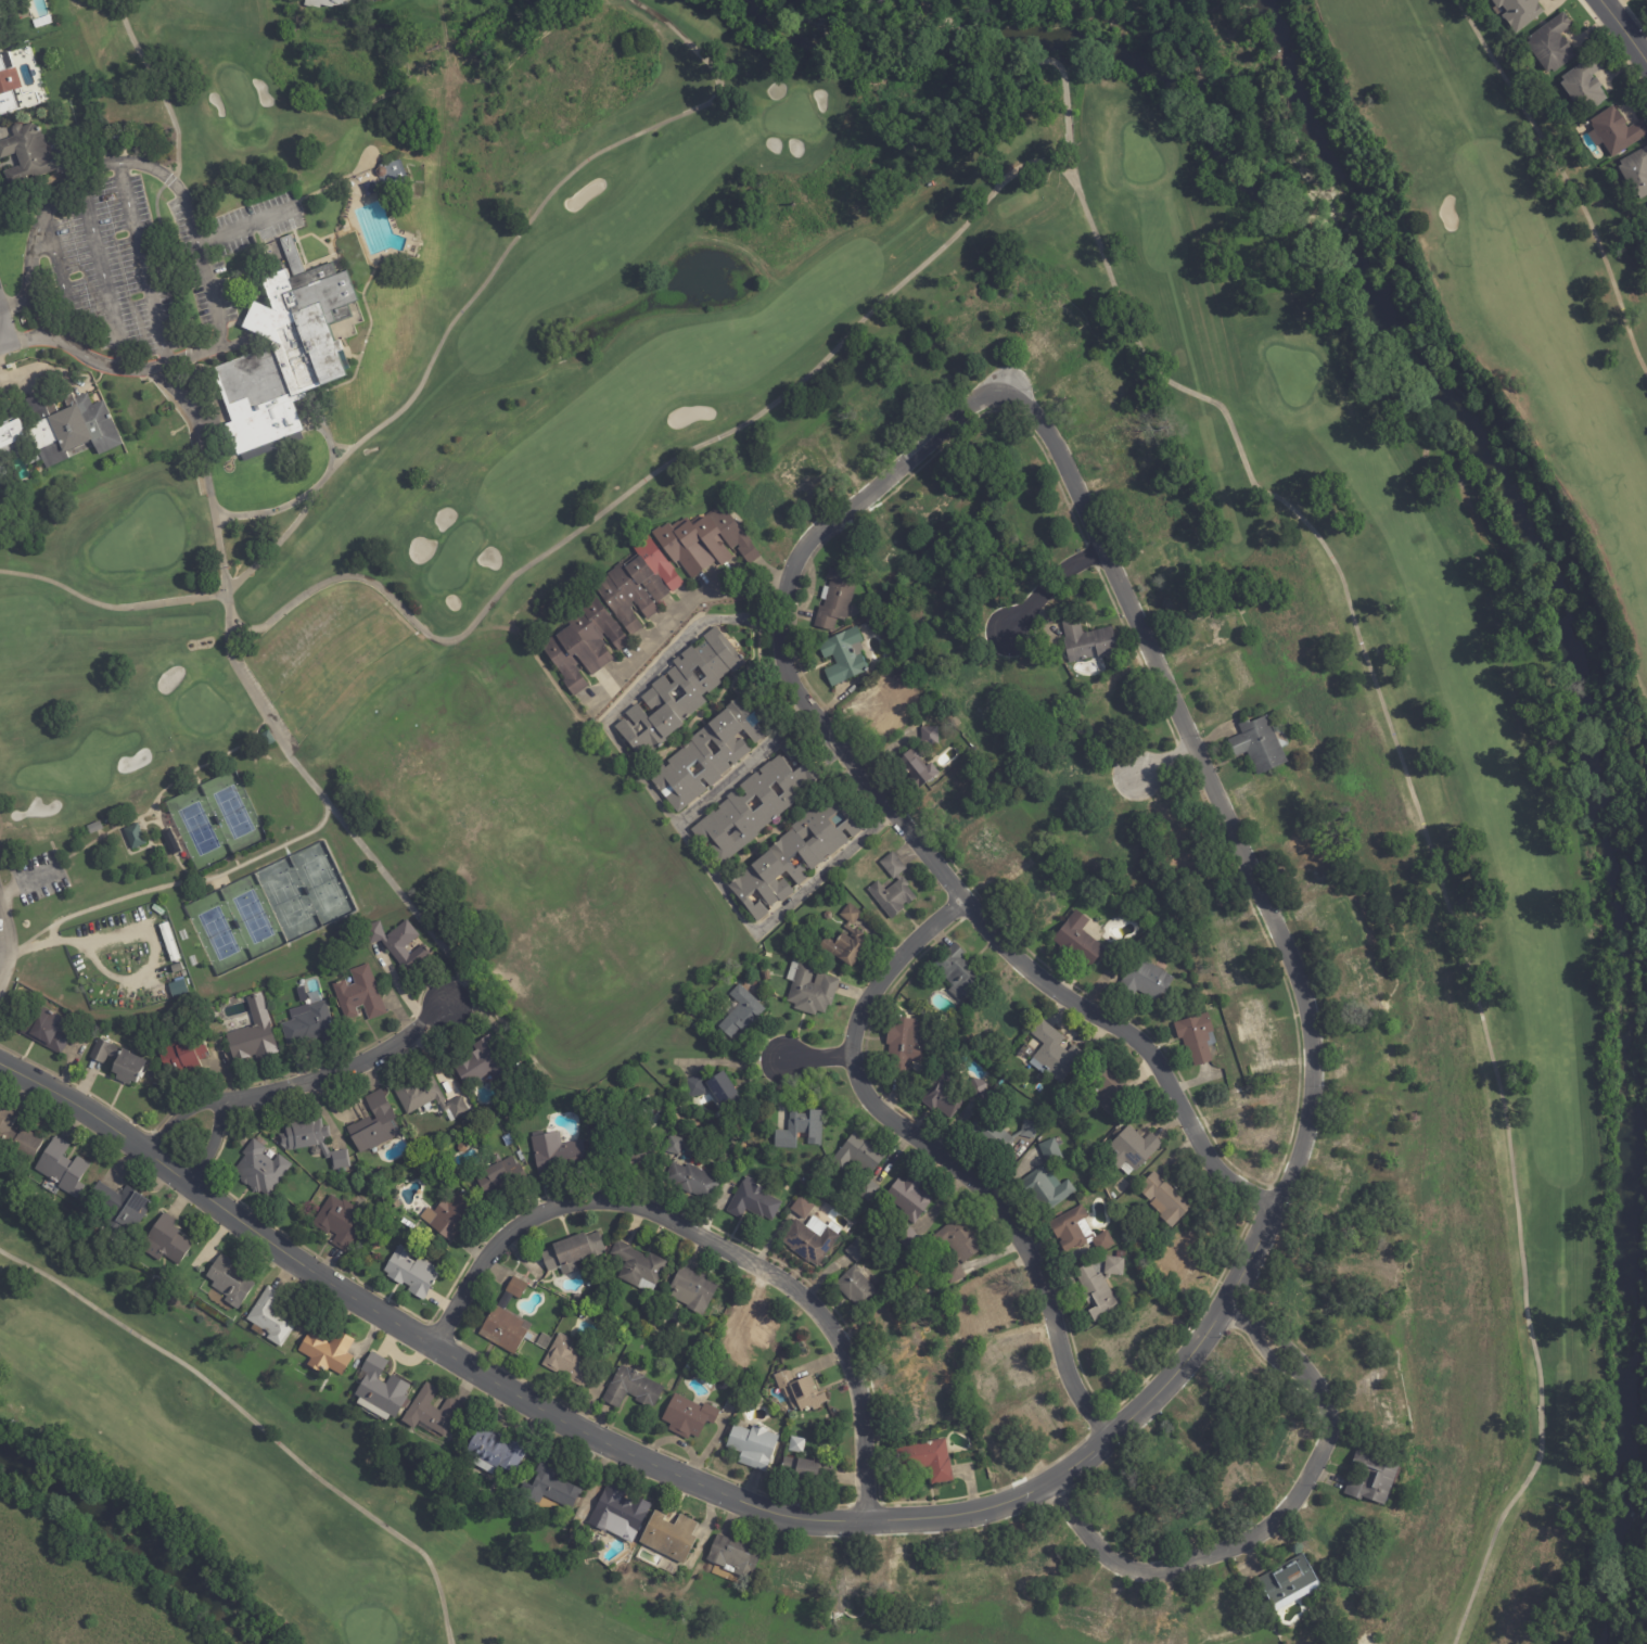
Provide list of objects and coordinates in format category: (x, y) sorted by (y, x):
building: (362, 2)
building: (2, 3)
building: (323, 3)
building: (1520, 12)
building: (42, 22)
road: (1625, 28)
building: (1553, 46)
building: (1586, 85)
building: (13, 88)
building: (1618, 132)
building: (122, 137)
building: (29, 157)
building: (1636, 171)
building: (1645, 208)
road: (241, 225)
road: (192, 234)
parking lot: (148, 258)
road: (144, 260)
road: (105, 271)
road: (56, 282)
road: (15, 300)
road: (37, 310)
road: (4, 334)
road: (26, 336)
road: (4, 348)
building: (284, 357)
road: (0, 375)
building: (882, 412)
building: (54, 436)
building: (1004, 454)
building: (799, 473)
building: (763, 506)
building: (932, 510)
building: (1034, 523)
building: (705, 543)
building: (890, 548)
building: (1173, 569)
road: (1049, 585)
building: (617, 586)
building: (837, 599)
road: (679, 610)
building: (940, 623)
building: (1208, 629)
building: (585, 642)
building: (1088, 642)
building: (844, 657)
building: (886, 673)
building: (1226, 677)
building: (655, 696)
building: (971, 700)
road: (259, 706)
building: (883, 711)
building: (1113, 712)
building: (267, 739)
building: (1260, 745)
building: (733, 748)
building: (911, 757)
park: (304, 762)
road: (1165, 762)
road: (742, 766)
building: (1074, 770)
building: (778, 802)
building: (953, 808)
road: (893, 811)
building: (1280, 811)
road: (669, 813)
building: (94, 828)
building: (1176, 836)
building: (133, 837)
building: (169, 842)
building: (1111, 843)
building: (987, 850)
building: (815, 857)
building: (892, 888)
building: (1211, 895)
building: (1038, 897)
building: (1338, 926)
building: (846, 941)
building: (1078, 941)
road: (7, 943)
building: (398, 944)
road: (2, 956)
building: (1233, 963)
building: (957, 972)
building: (767, 977)
building: (1145, 981)
building: (1359, 986)
building: (178, 987)
building: (810, 990)
building: (359, 995)
building: (741, 1012)
building: (998, 1016)
building: (1255, 1023)
building: (310, 1027)
building: (43, 1032)
building: (254, 1035)
building: (1196, 1037)
building: (902, 1044)
building: (1054, 1054)
building: (183, 1057)
road: (816, 1058)
building: (1366, 1059)
building: (120, 1062)
building: (483, 1065)
road: (303, 1082)
building: (978, 1089)
building: (715, 1091)
building: (1109, 1091)
building: (943, 1098)
building: (427, 1099)
building: (374, 1125)
building: (801, 1130)
building: (1253, 1132)
building: (997, 1134)
building: (17, 1138)
building: (507, 1140)
building: (312, 1142)
building: (674, 1146)
building: (1132, 1151)
building: (557, 1154)
road: (940, 1155)
building: (630, 1156)
building: (520, 1157)
building: (860, 1163)
building: (61, 1169)
building: (260, 1169)
building: (499, 1176)
building: (1047, 1181)
building: (692, 1182)
building: (1346, 1188)
building: (1167, 1199)
building: (753, 1202)
building: (396, 1203)
building: (122, 1208)
building: (909, 1208)
building: (449, 1216)
building: (340, 1223)
building: (408, 1224)
building: (1078, 1232)
building: (167, 1241)
road: (710, 1241)
building: (809, 1241)
building: (958, 1247)
building: (1315, 1250)
building: (572, 1252)
building: (1121, 1256)
building: (1180, 1258)
building: (638, 1269)
building: (410, 1274)
building: (858, 1278)
building: (229, 1283)
building: (1101, 1289)
building: (693, 1291)
building: (1300, 1301)
building: (990, 1311)
building: (271, 1320)
building: (508, 1320)
building: (748, 1327)
building: (1352, 1338)
building: (896, 1339)
building: (542, 1342)
building: (1122, 1349)
building: (776, 1350)
building: (328, 1353)
building: (569, 1361)
building: (690, 1365)
building: (1011, 1367)
building: (924, 1372)
building: (633, 1390)
building: (380, 1392)
building: (801, 1393)
building: (914, 1405)
building: (432, 1413)
building: (1384, 1413)
building: (1034, 1417)
building: (689, 1418)
building: (1204, 1425)
building: (783, 1430)
building: (1280, 1440)
building: (796, 1447)
building: (753, 1448)
building: (494, 1453)
building: (1163, 1454)
road: (1078, 1458)
building: (928, 1462)
building: (801, 1471)
park: (267, 1474)
building: (1372, 1479)
building: (1236, 1484)
building: (549, 1487)
building: (1114, 1491)
building: (620, 1515)
road: (1274, 1522)
building: (1122, 1525)
building: (1337, 1531)
building: (671, 1539)
building: (735, 1557)
building: (1038, 1563)
building: (794, 1576)
building: (911, 1581)
building: (855, 1584)
building: (1289, 1584)
building: (1086, 1615)
building: (1156, 1627)

